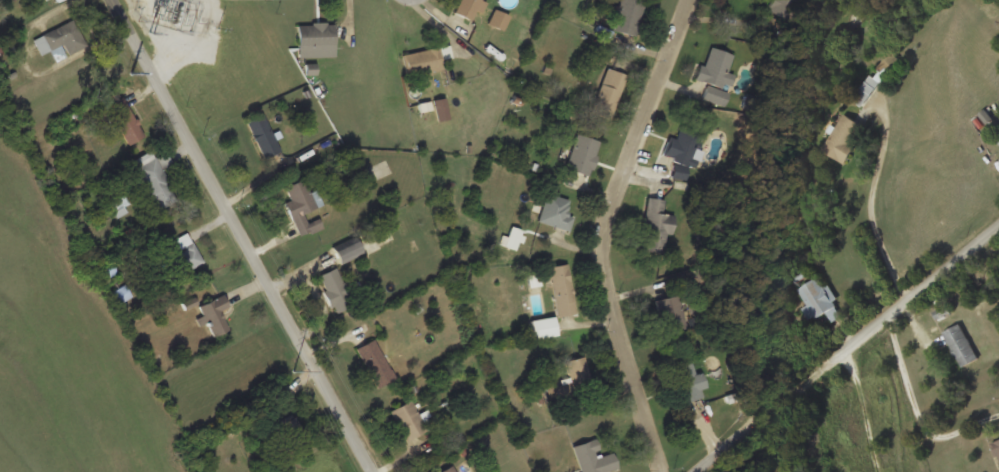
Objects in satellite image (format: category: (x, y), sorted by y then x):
building: (55, 1)
building: (466, 8)
power substation: (171, 12)
building: (628, 16)
building: (497, 19)
power tower: (152, 32)
building: (314, 39)
building: (59, 40)
building: (444, 52)
building: (421, 61)
building: (715, 76)
building: (865, 90)
building: (608, 92)
building: (124, 120)
building: (262, 135)
building: (842, 137)
building: (682, 146)
building: (581, 155)
building: (154, 179)
building: (300, 208)
building: (555, 212)
building: (655, 225)
road: (610, 232)
road: (239, 236)
building: (346, 252)
building: (181, 254)
building: (107, 270)
building: (334, 289)
building: (561, 290)
building: (121, 294)
building: (817, 299)
building: (670, 313)
building: (213, 314)
building: (542, 327)
building: (960, 344)
road: (851, 354)
building: (374, 363)
building: (578, 376)
building: (687, 382)
building: (407, 420)
building: (997, 449)
building: (593, 458)
building: (448, 469)

